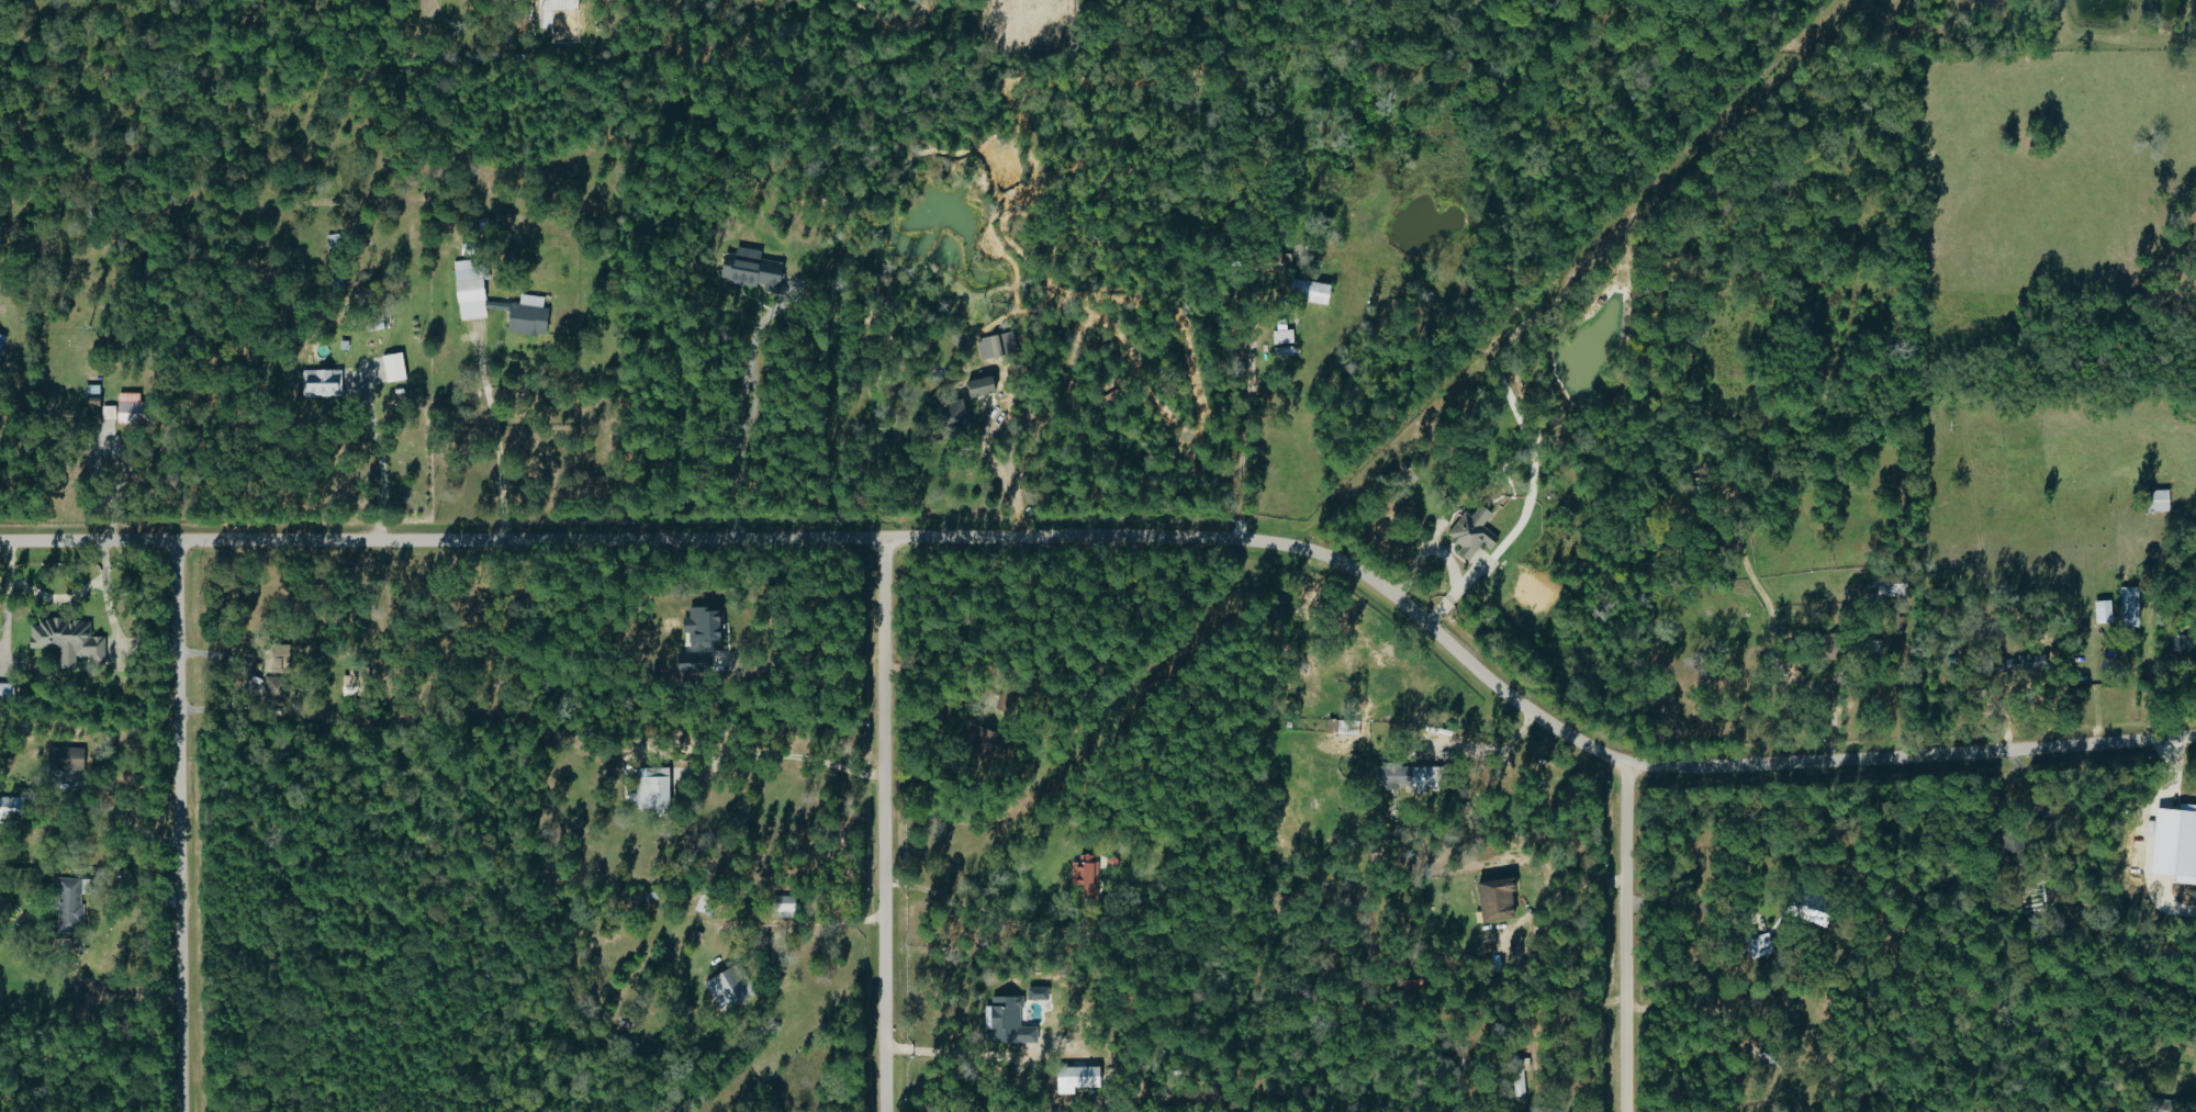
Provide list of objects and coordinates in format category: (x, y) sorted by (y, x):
building: (1268, 261)
building: (749, 270)
building: (1307, 291)
building: (1280, 334)
building: (2, 341)
building: (397, 367)
building: (325, 383)
building: (981, 386)
building: (139, 412)
building: (111, 413)
building: (949, 418)
road: (492, 431)
road: (749, 433)
road: (1241, 437)
road: (377, 456)
road: (1002, 472)
building: (2155, 501)
building: (1469, 533)
road: (1133, 536)
building: (2127, 606)
building: (2100, 611)
building: (698, 624)
building: (69, 640)
road: (815, 653)
building: (696, 663)
building: (2012, 664)
road: (1789, 678)
building: (357, 682)
building: (277, 686)
building: (8, 693)
building: (1346, 727)
road: (754, 757)
building: (68, 759)
building: (1389, 775)
building: (1421, 777)
building: (647, 788)
building: (13, 809)
road: (889, 821)
road: (178, 827)
building: (2172, 846)
building: (1083, 870)
road: (1564, 892)
building: (1491, 898)
building: (70, 903)
building: (780, 907)
building: (1811, 907)
road: (1693, 911)
road: (2171, 913)
road: (986, 916)
road: (820, 924)
road: (1628, 939)
building: (1758, 946)
building: (724, 987)
building: (1035, 993)
building: (1005, 1021)
road: (952, 1057)
building: (1078, 1077)
building: (1520, 1078)
building: (2159, 1105)

